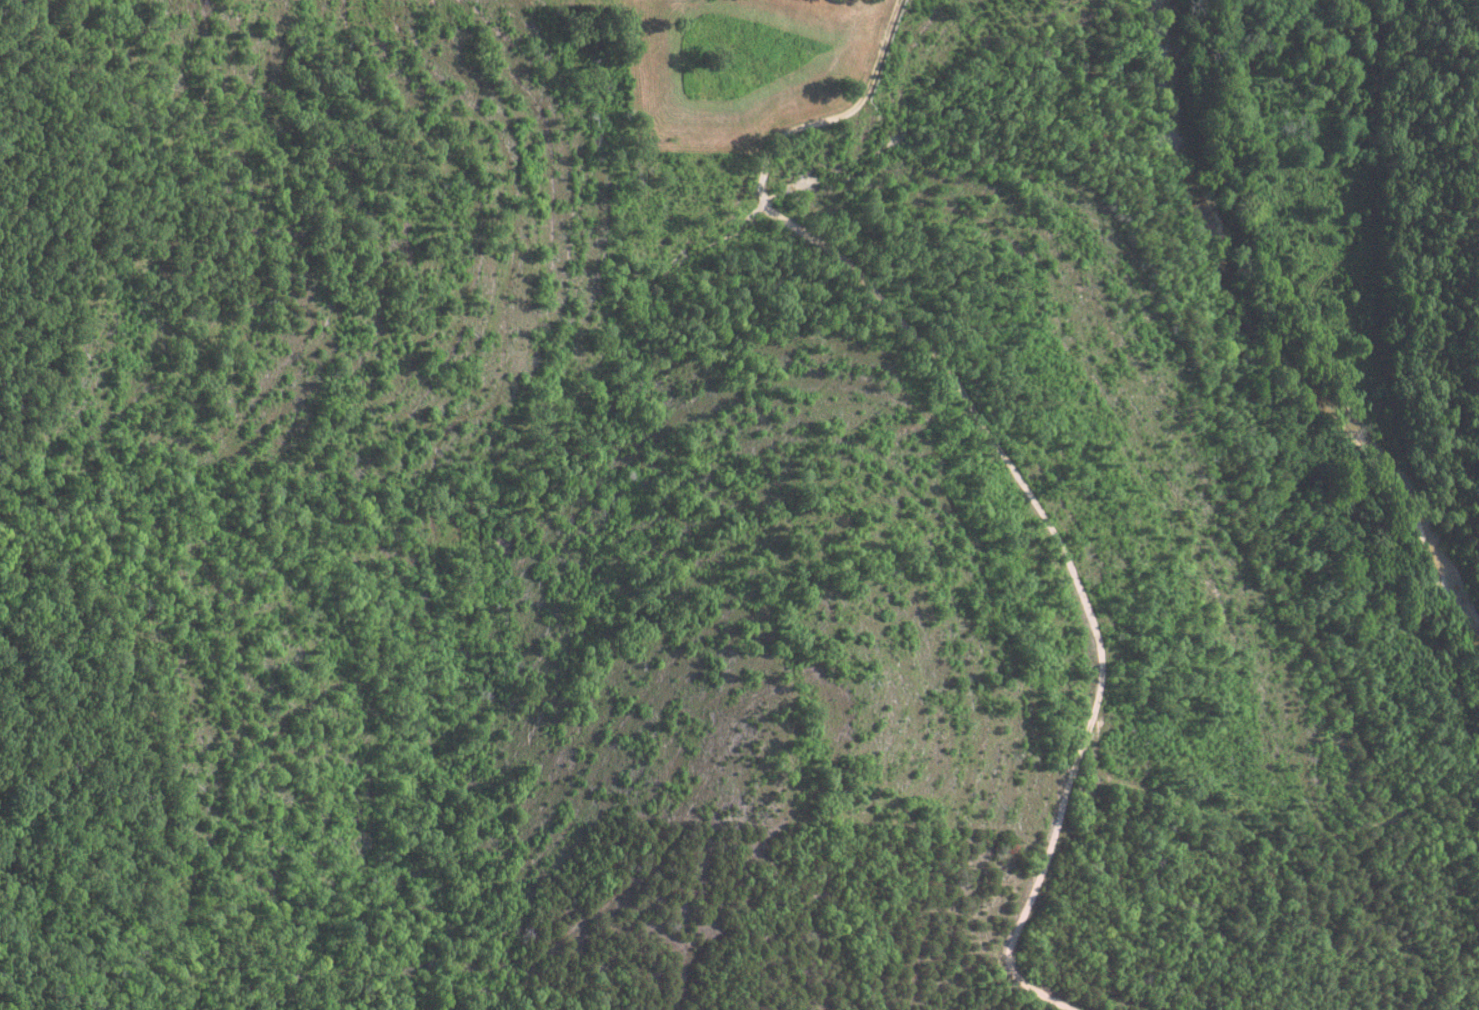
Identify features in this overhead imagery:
road: (800, 132)
road: (1088, 607)
road: (1362, 729)

